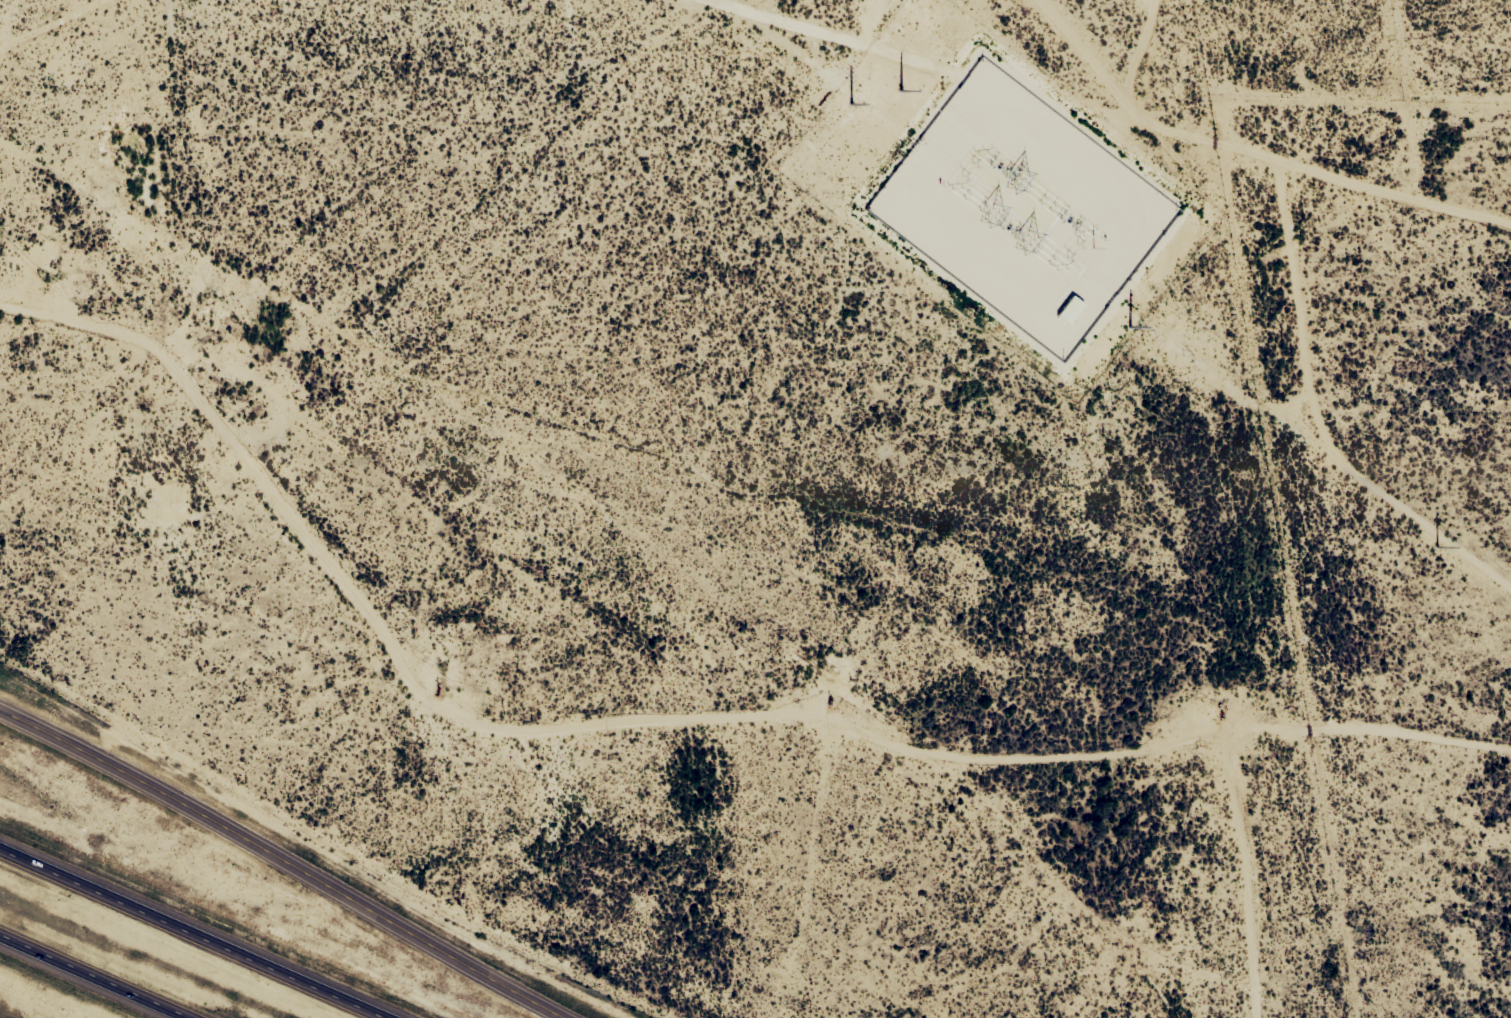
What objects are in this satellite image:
road: (2, 20)
road: (52, 20)
power tower: (848, 95)
power tower: (877, 117)
power tower: (911, 143)
power tower: (1167, 331)
power tower: (1440, 546)
road: (283, 863)
road: (207, 929)
road: (98, 975)

